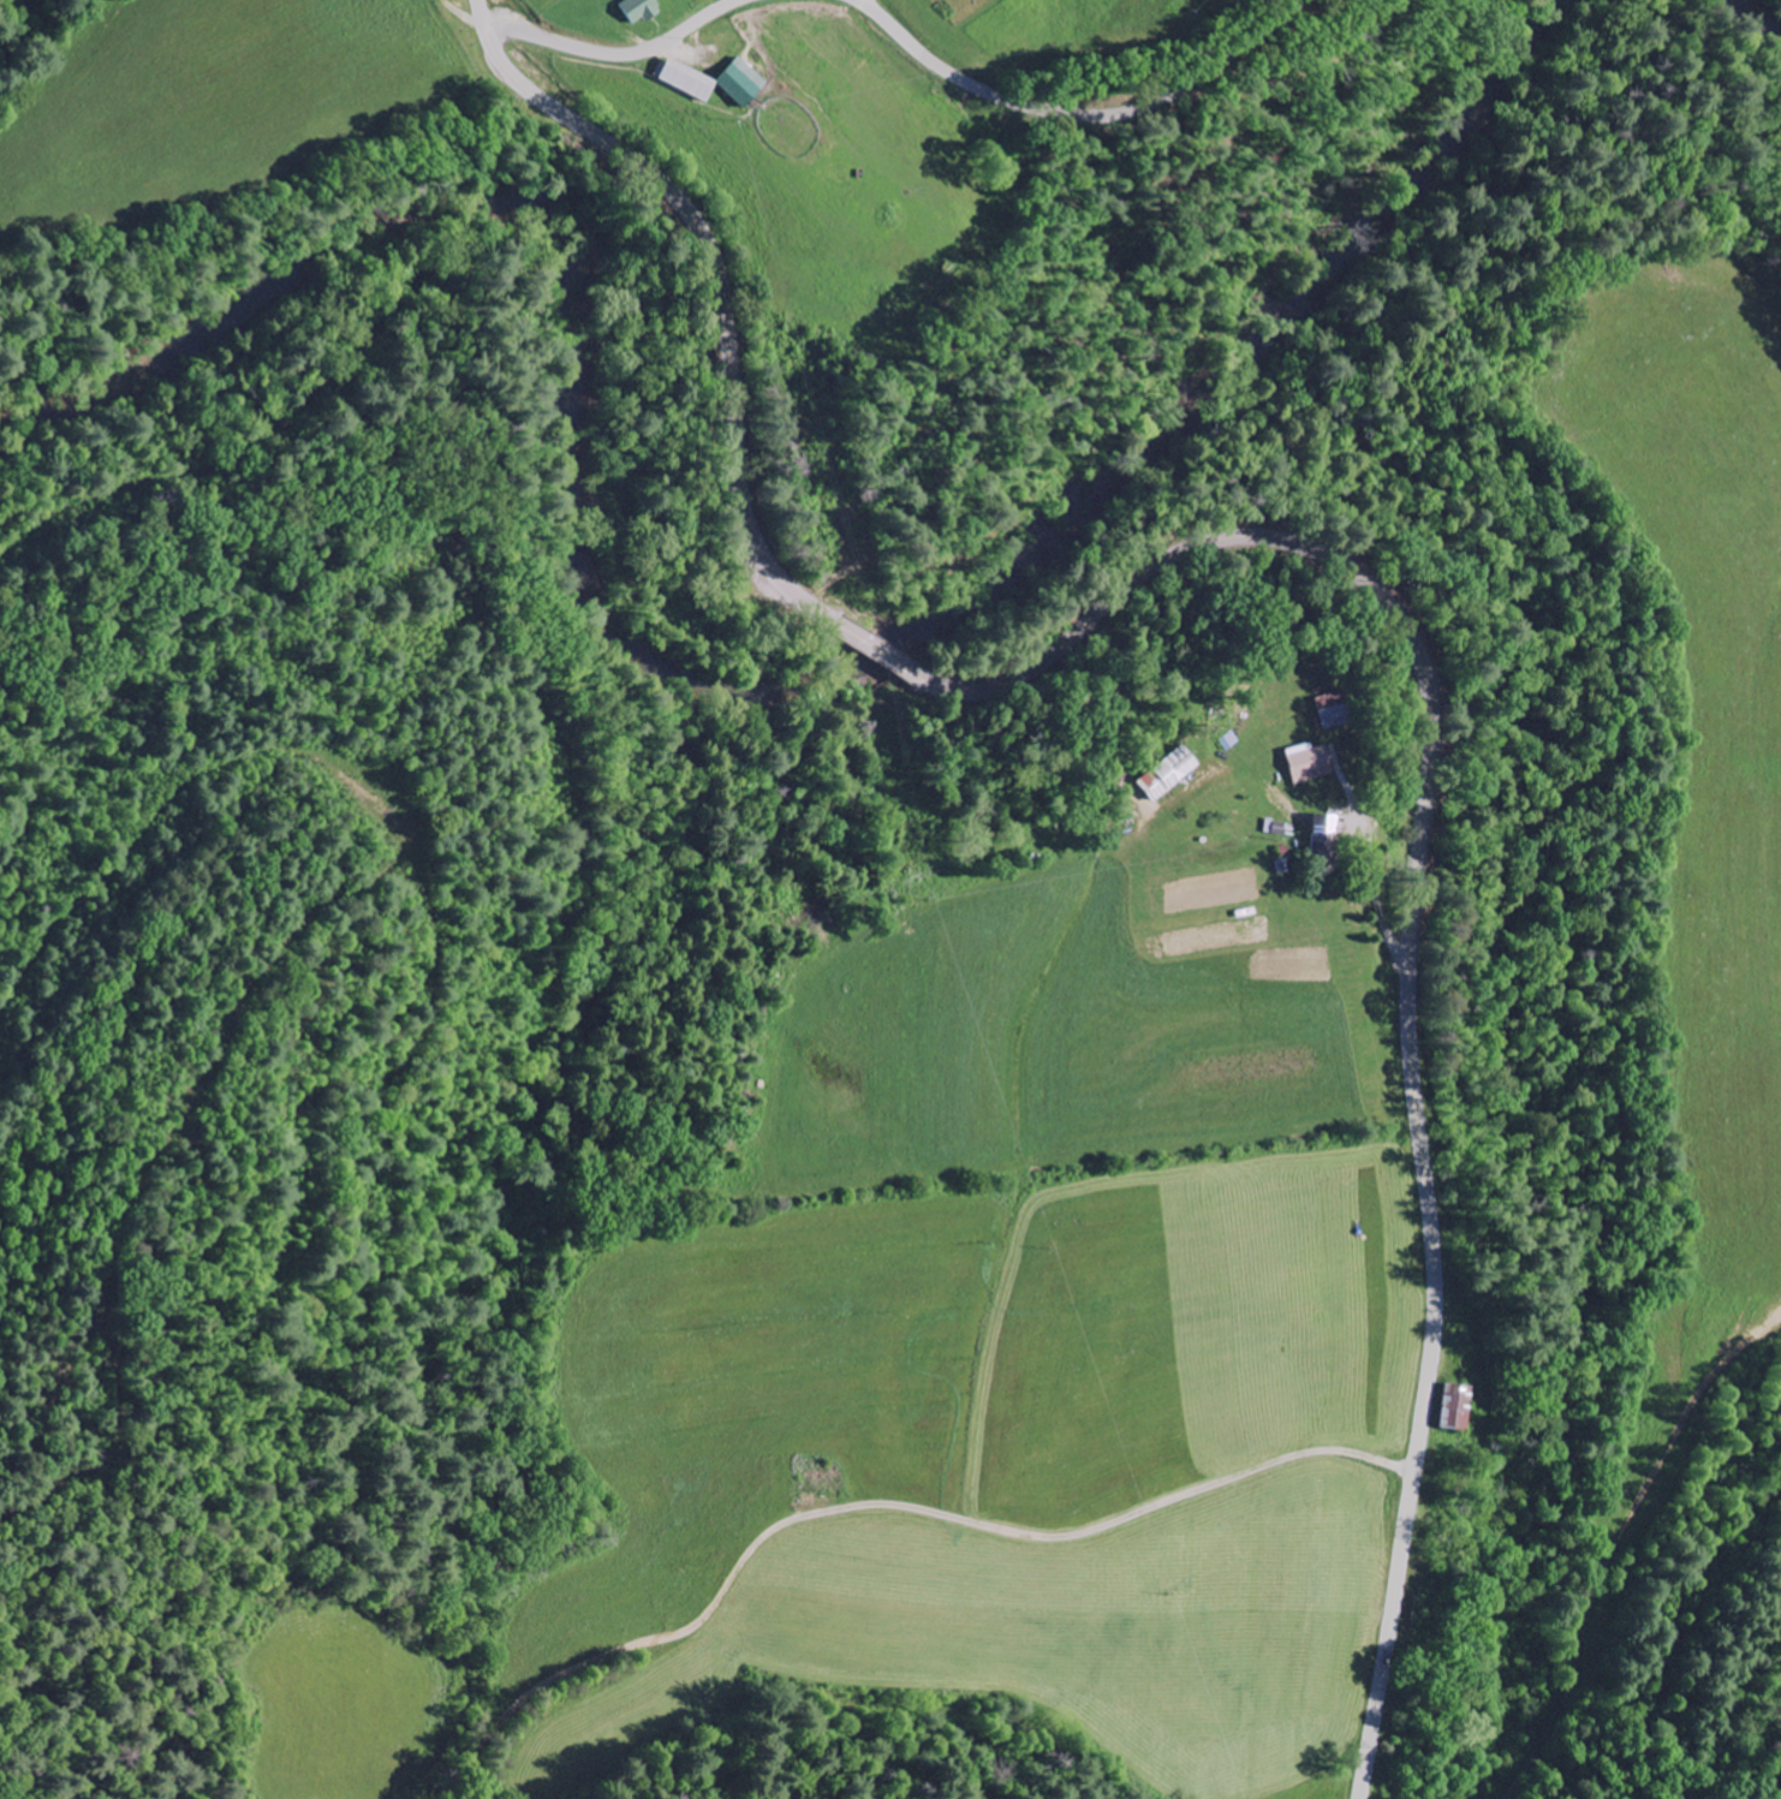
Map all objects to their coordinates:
park: (957, 7)
river: (1764, 10)
building: (630, 11)
road: (613, 52)
building: (677, 82)
building: (732, 84)
road: (1078, 111)
road: (714, 278)
road: (880, 650)
river: (697, 693)
building: (1326, 713)
building: (1305, 764)
building: (1162, 774)
building: (1318, 829)
road: (1410, 934)
building: (1449, 1408)
road: (936, 1535)

